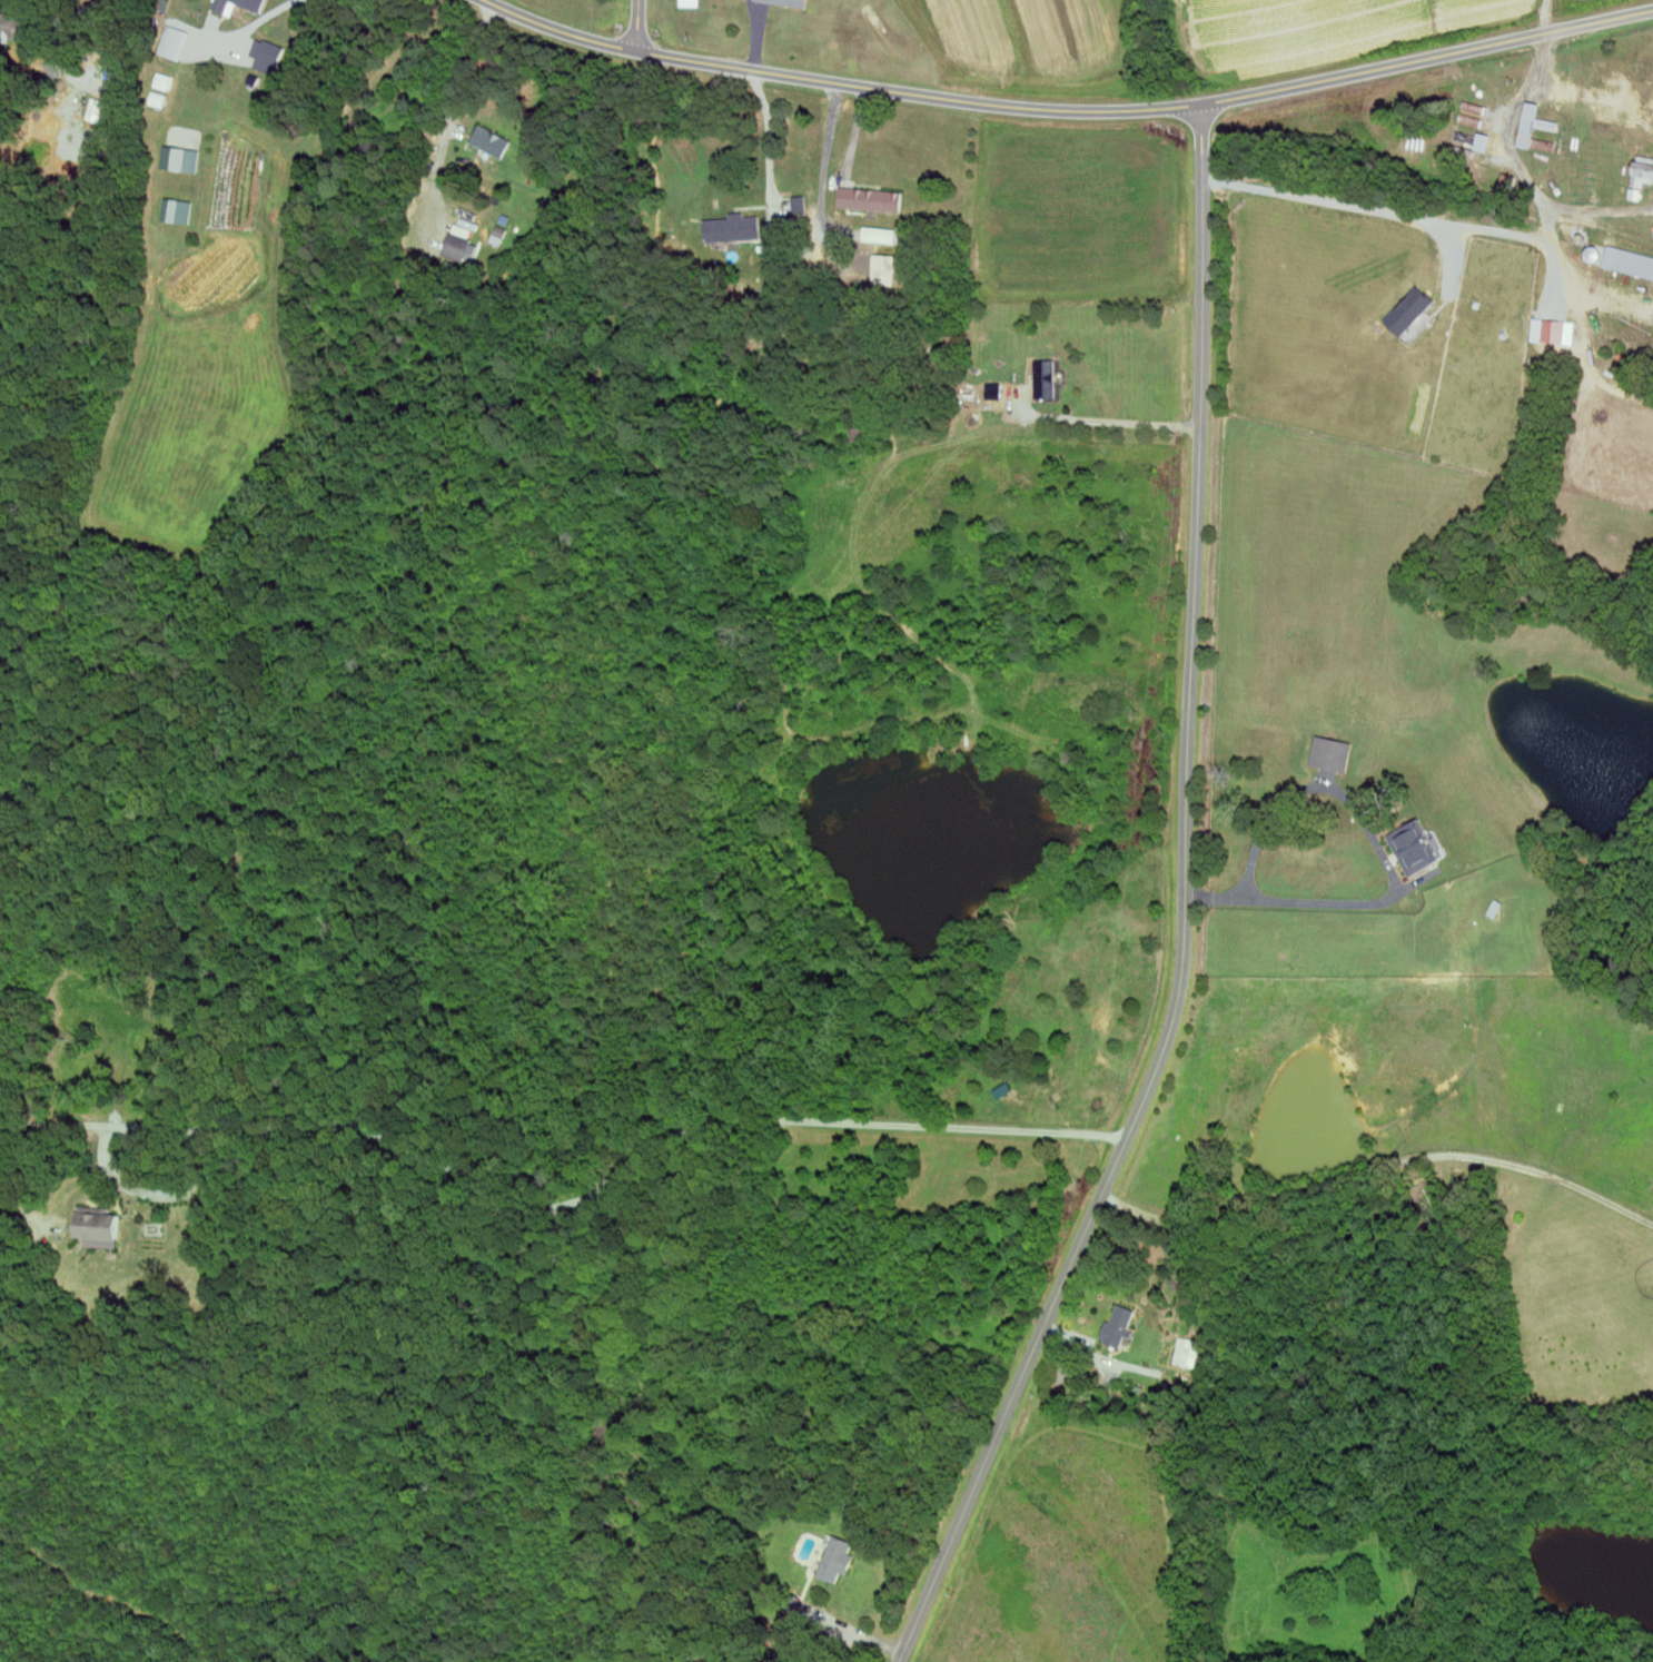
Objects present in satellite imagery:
building: (693, 2)
building: (794, 2)
building: (253, 6)
road: (70, 13)
road: (637, 24)
building: (18, 27)
road: (244, 27)
road: (755, 33)
building: (172, 42)
building: (266, 57)
road: (449, 106)
road: (1069, 109)
building: (1532, 129)
building: (491, 140)
building: (1484, 141)
building: (1547, 146)
road: (769, 149)
building: (184, 157)
road: (1514, 167)
building: (1644, 170)
road: (824, 171)
building: (870, 199)
building: (172, 208)
road: (1385, 209)
building: (732, 228)
building: (461, 244)
building: (1629, 261)
building: (882, 269)
building: (1407, 311)
building: (734, 360)
building: (1046, 379)
building: (993, 390)
road: (1107, 419)
building: (1329, 752)
road: (1316, 785)
building: (1413, 845)
road: (1318, 900)
building: (1494, 907)
road: (1186, 910)
road: (39, 1158)
road: (1377, 1169)
road: (182, 1171)
road: (157, 1193)
road: (563, 1204)
road: (19, 1206)
building: (102, 1223)
building: (1116, 1325)
building: (1186, 1351)
building: (834, 1560)
building: (791, 1603)
building: (802, 1606)

